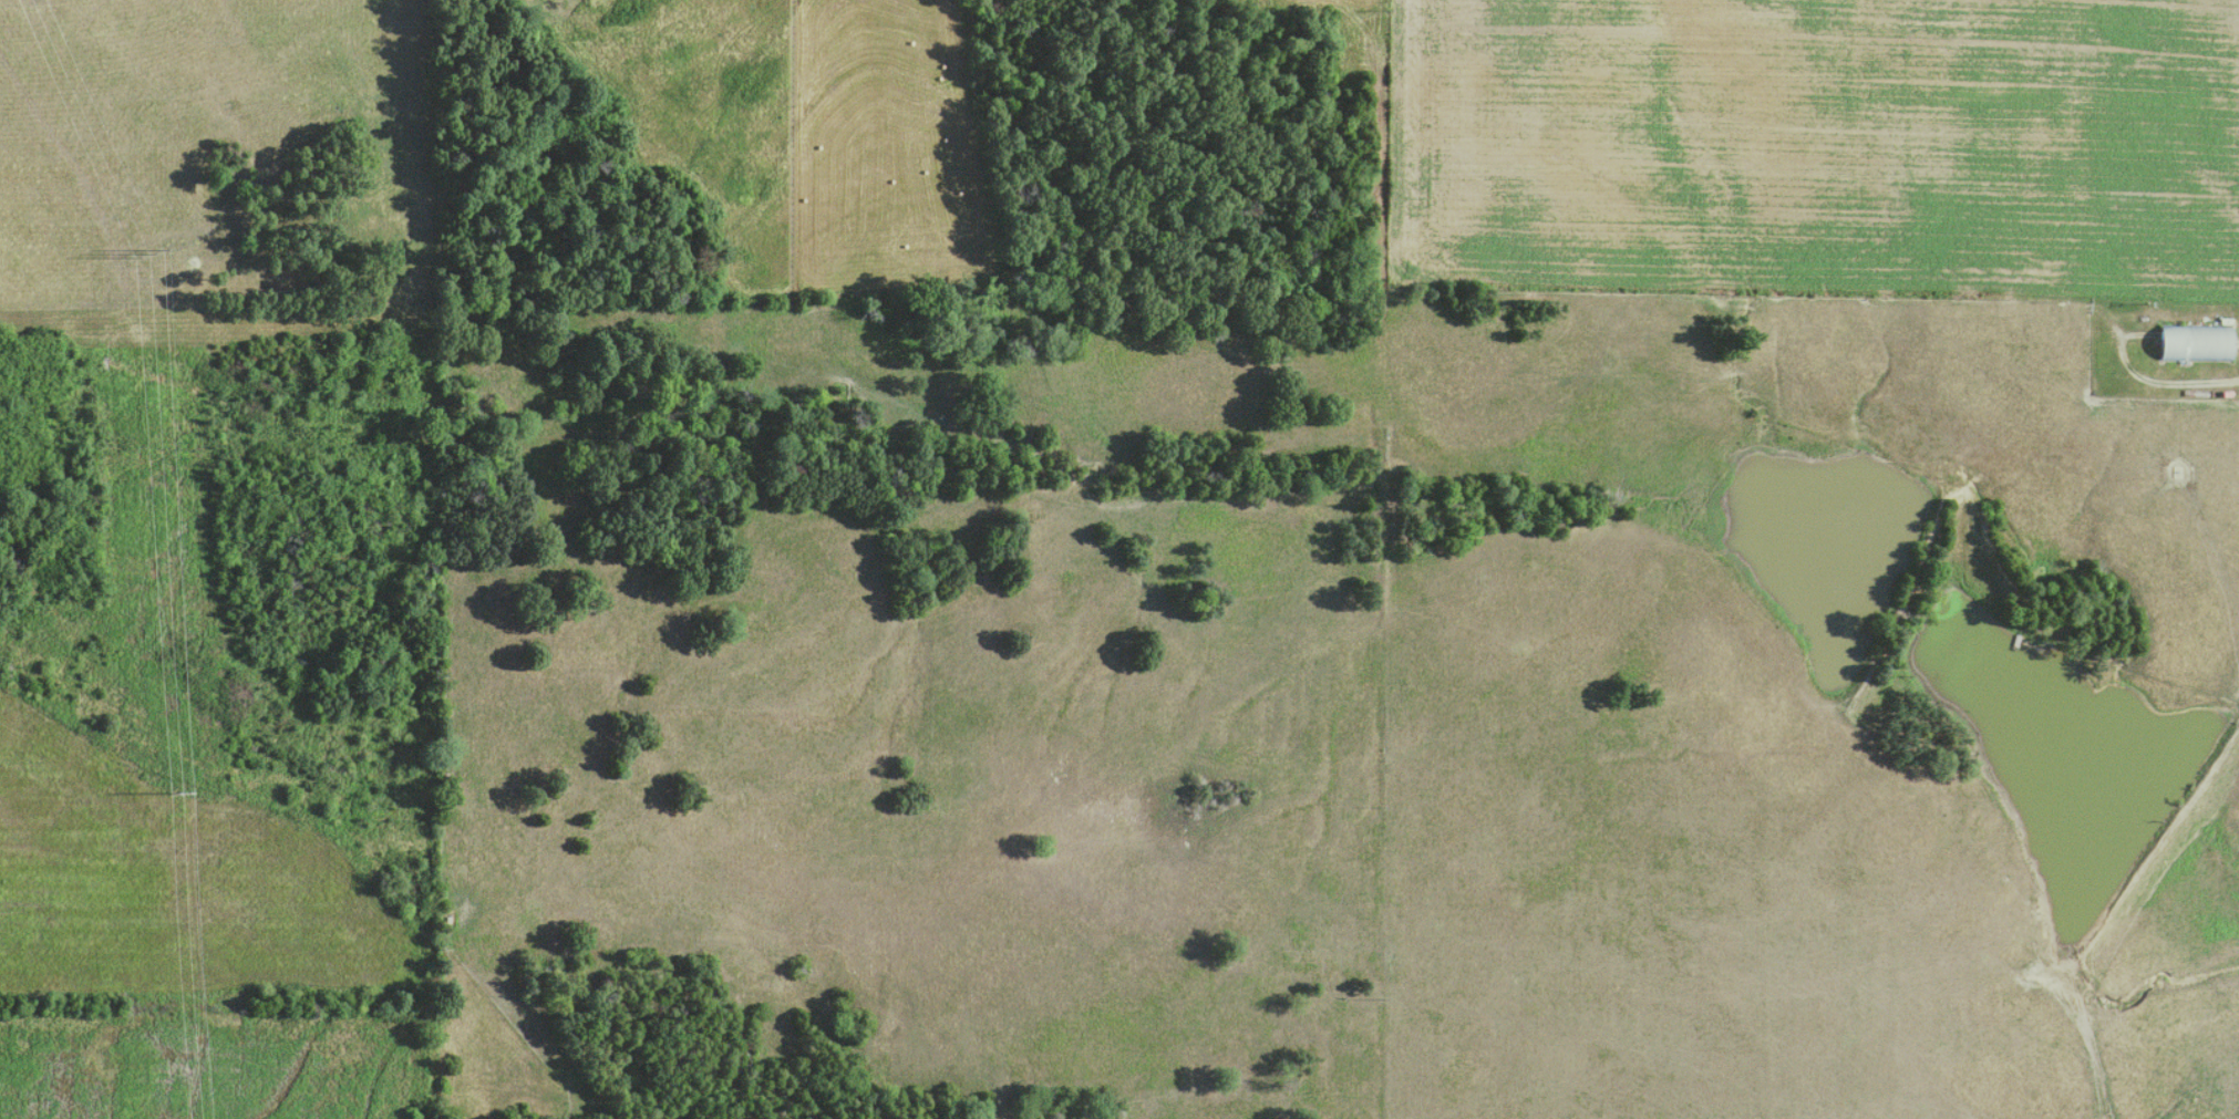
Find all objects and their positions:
building: (2192, 343)

